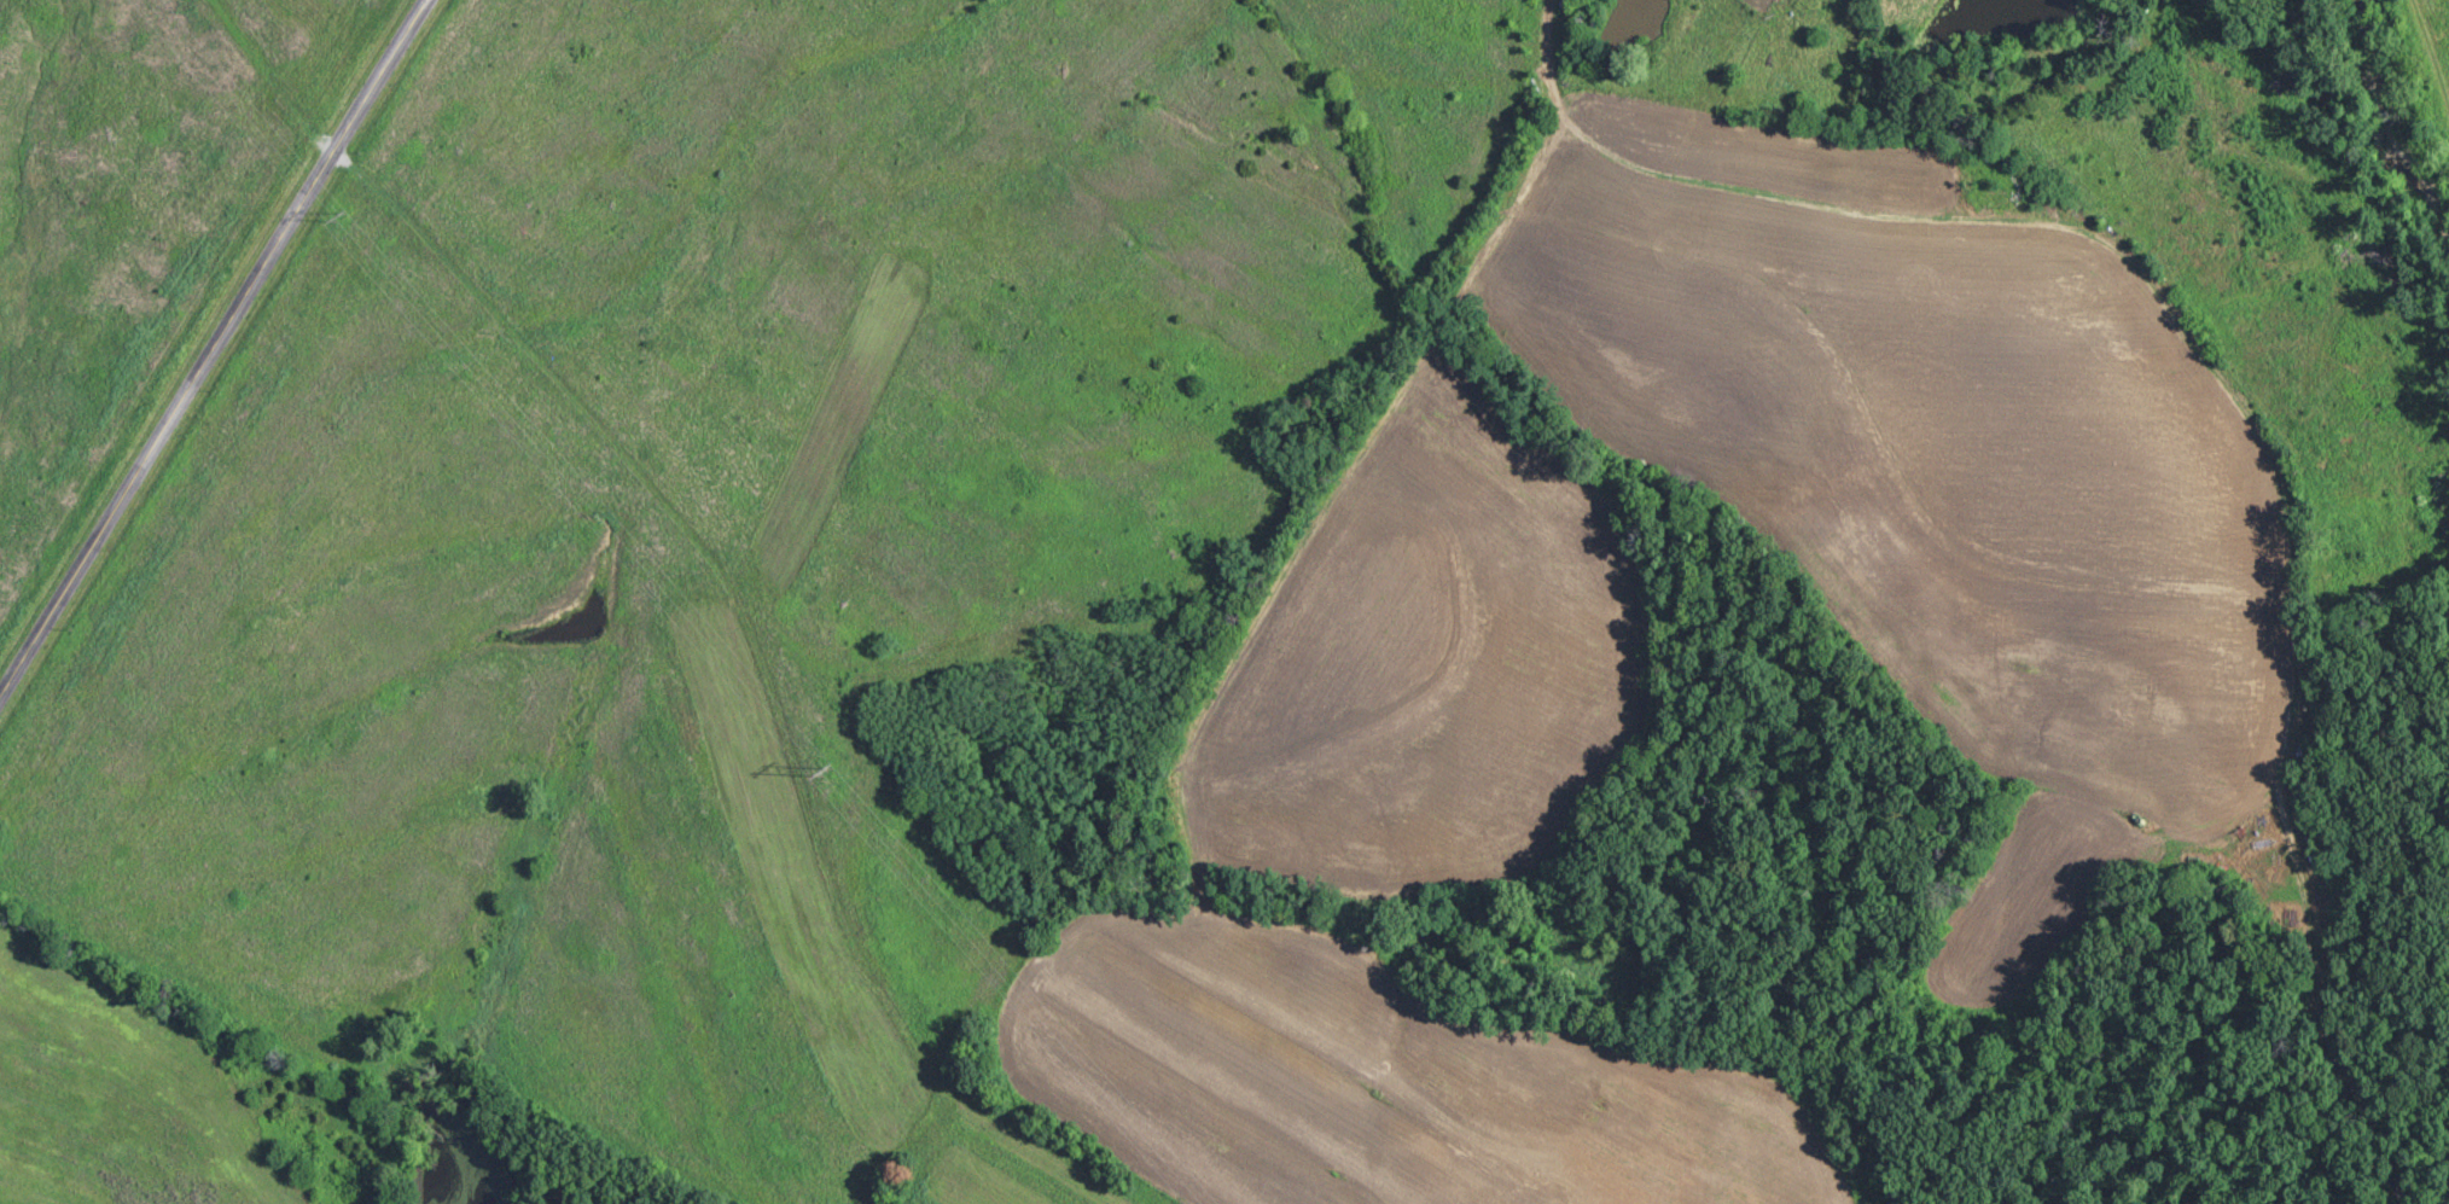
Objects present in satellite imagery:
road: (215, 351)

